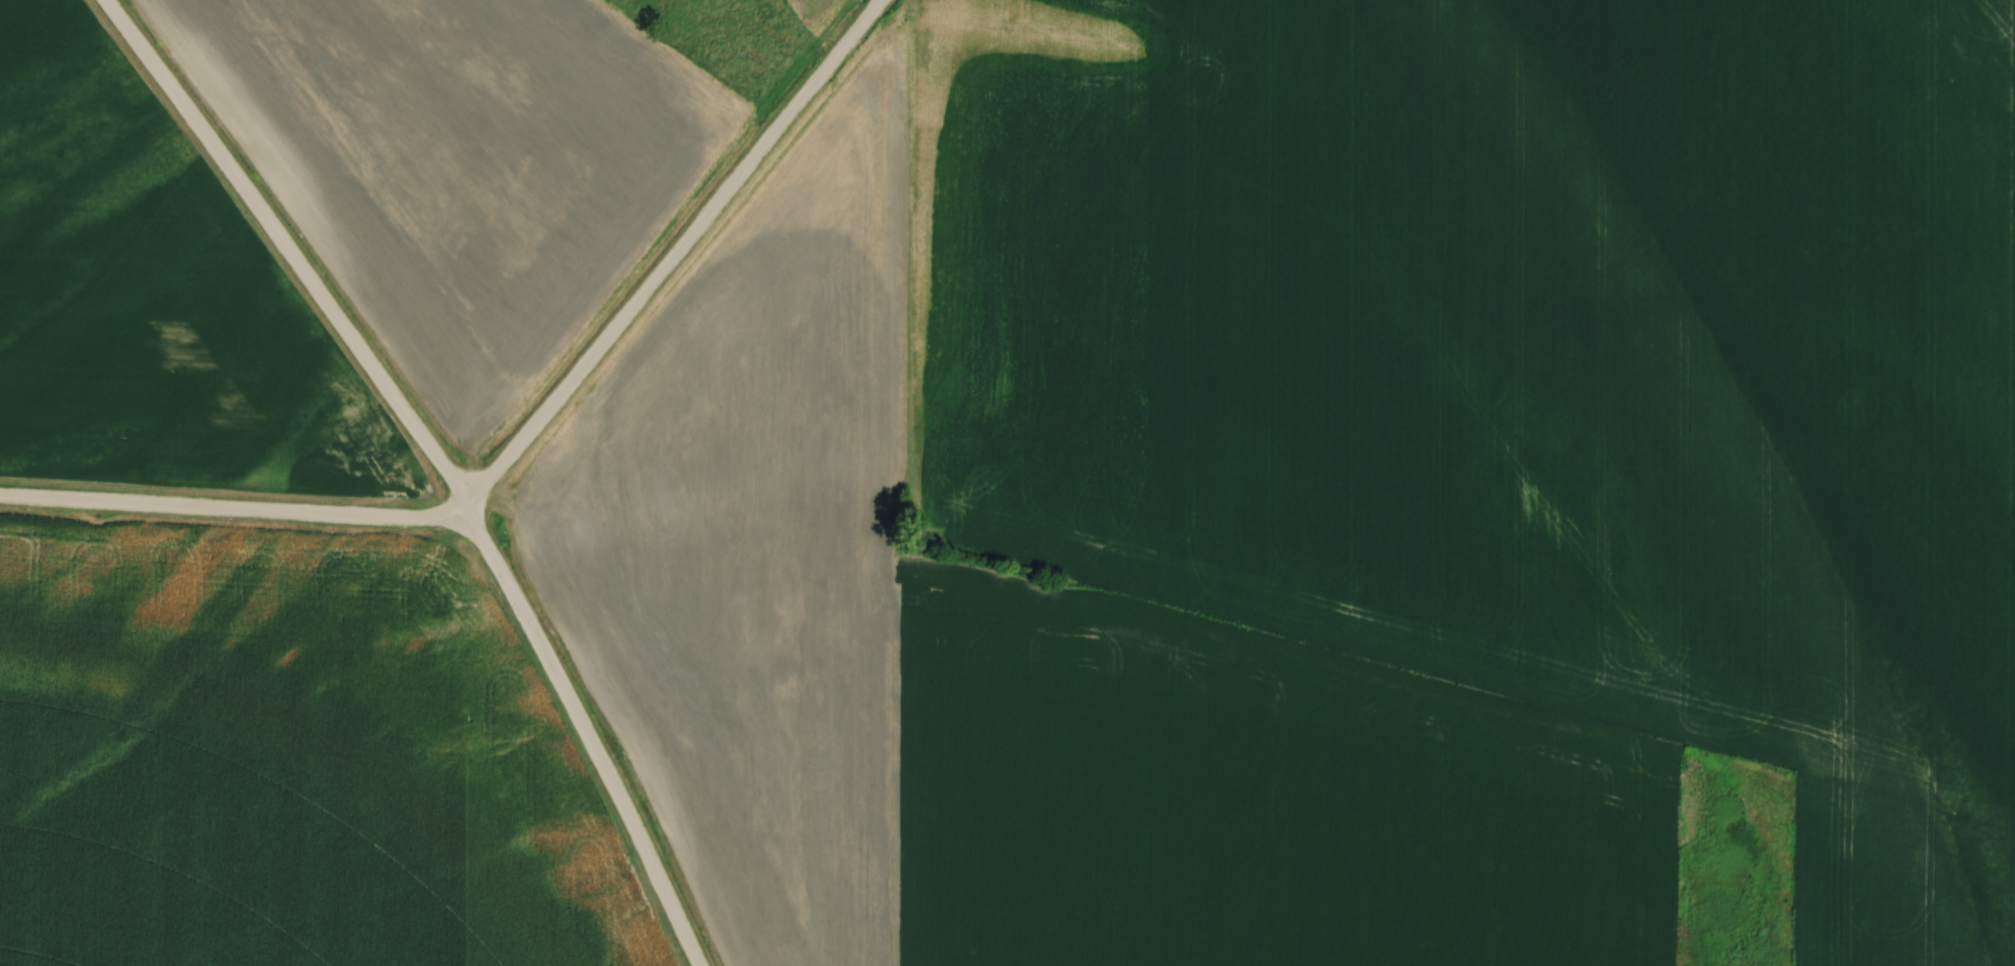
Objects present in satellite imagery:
road: (285, 251)
road: (524, 431)
road: (580, 734)

